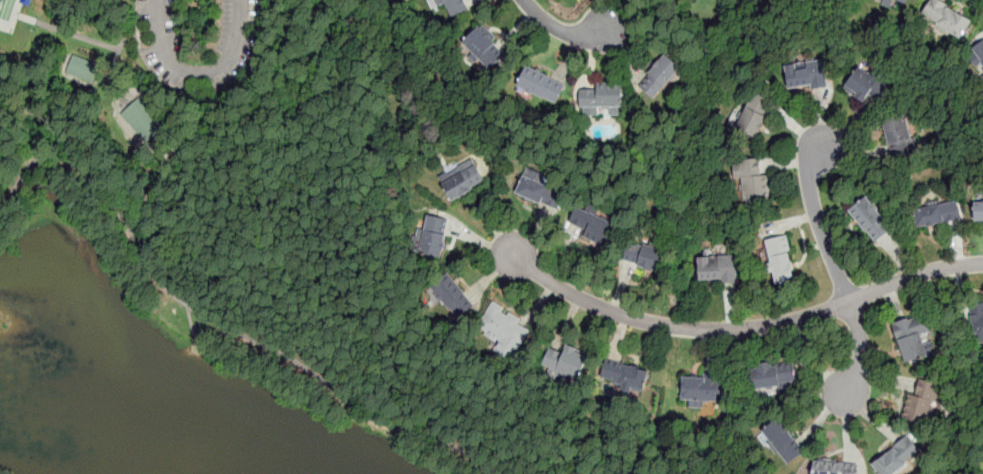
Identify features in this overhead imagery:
building: (901, 1)
building: (887, 2)
building: (452, 6)
building: (946, 18)
park: (15, 24)
road: (557, 28)
parking lot: (243, 47)
building: (484, 48)
building: (979, 53)
building: (83, 65)
road: (200, 73)
building: (806, 75)
building: (660, 77)
building: (539, 85)
building: (865, 85)
building: (600, 98)
building: (754, 115)
building: (143, 117)
building: (899, 135)
road: (175, 150)
building: (752, 178)
building: (461, 180)
building: (540, 192)
road: (497, 204)
building: (977, 210)
building: (936, 215)
building: (871, 221)
building: (591, 226)
building: (433, 236)
park: (222, 254)
building: (643, 255)
building: (779, 260)
building: (716, 268)
road: (836, 270)
building: (452, 294)
building: (977, 323)
road: (218, 324)
building: (504, 328)
road: (742, 328)
building: (914, 338)
building: (564, 361)
building: (624, 376)
building: (773, 376)
building: (699, 388)
building: (919, 402)
building: (783, 440)
building: (897, 457)
building: (833, 466)

